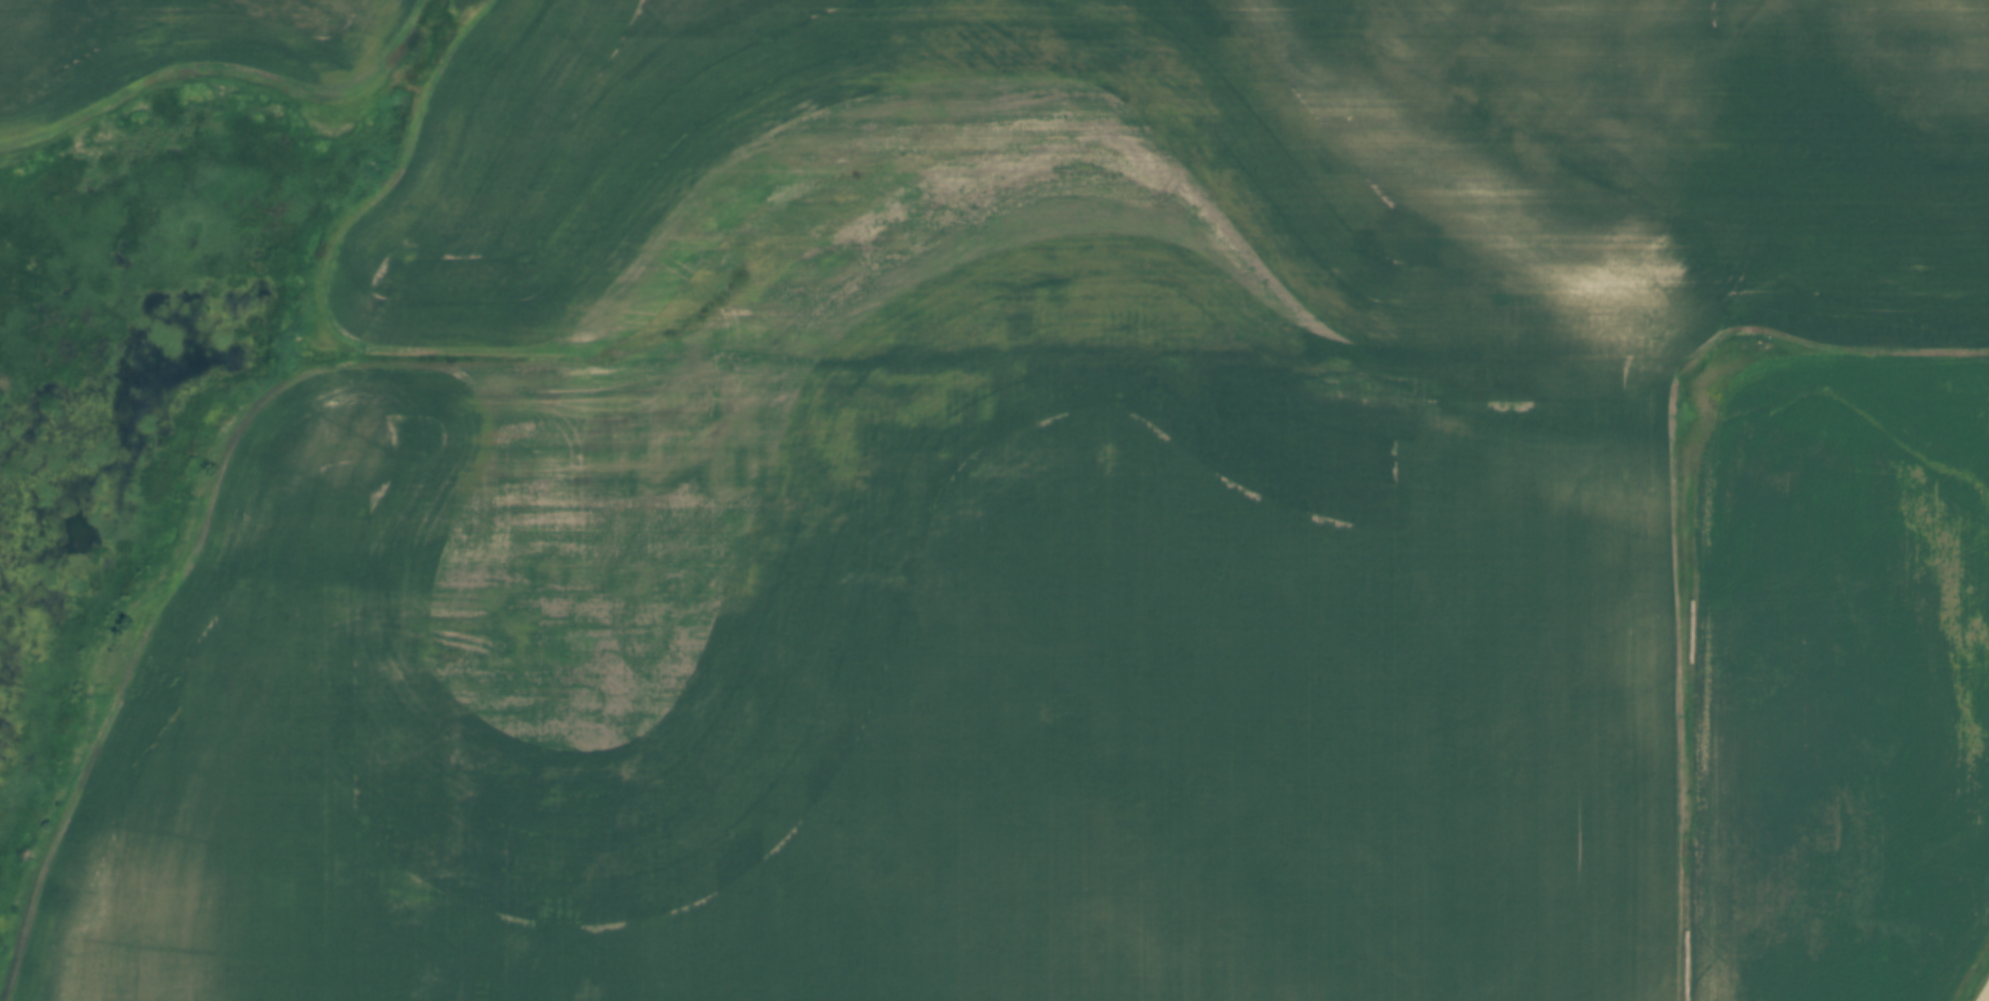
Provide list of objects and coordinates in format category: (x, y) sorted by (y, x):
road: (1988, 1000)

